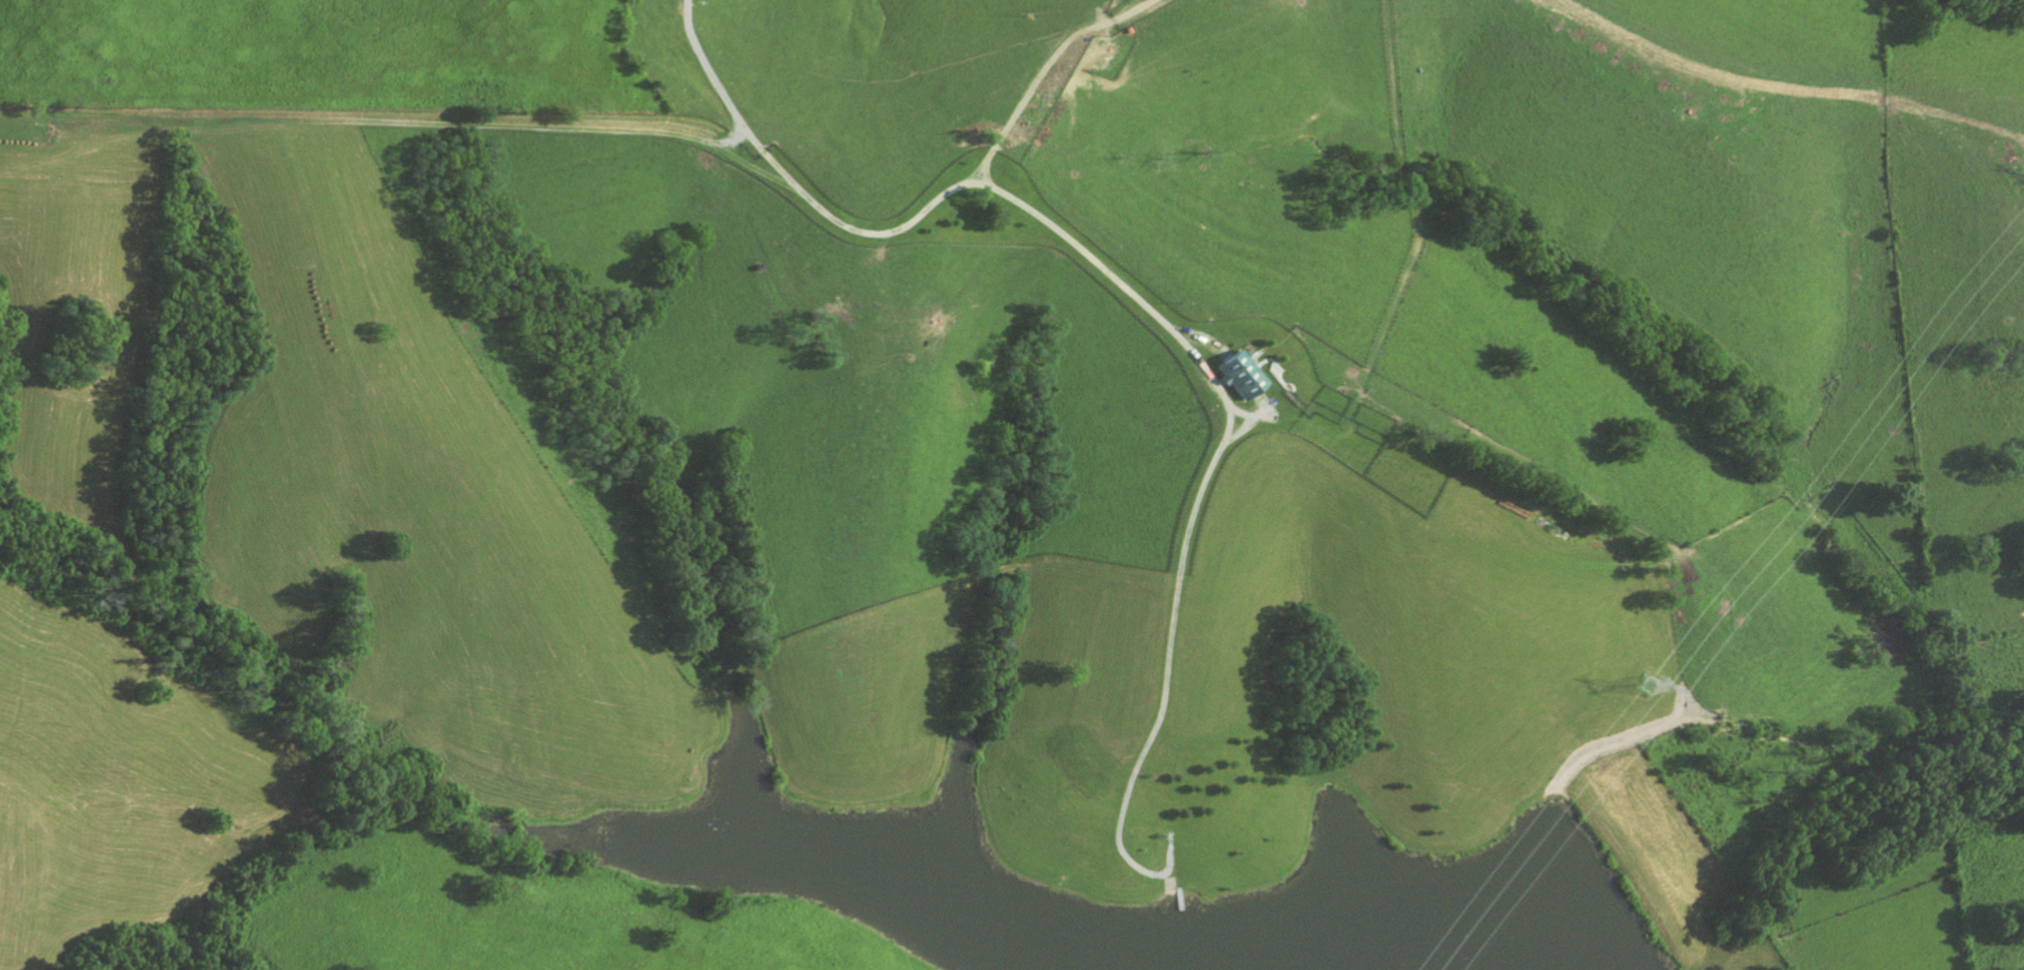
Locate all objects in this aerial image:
road: (698, 180)
building: (1243, 376)
power tower: (1644, 686)

